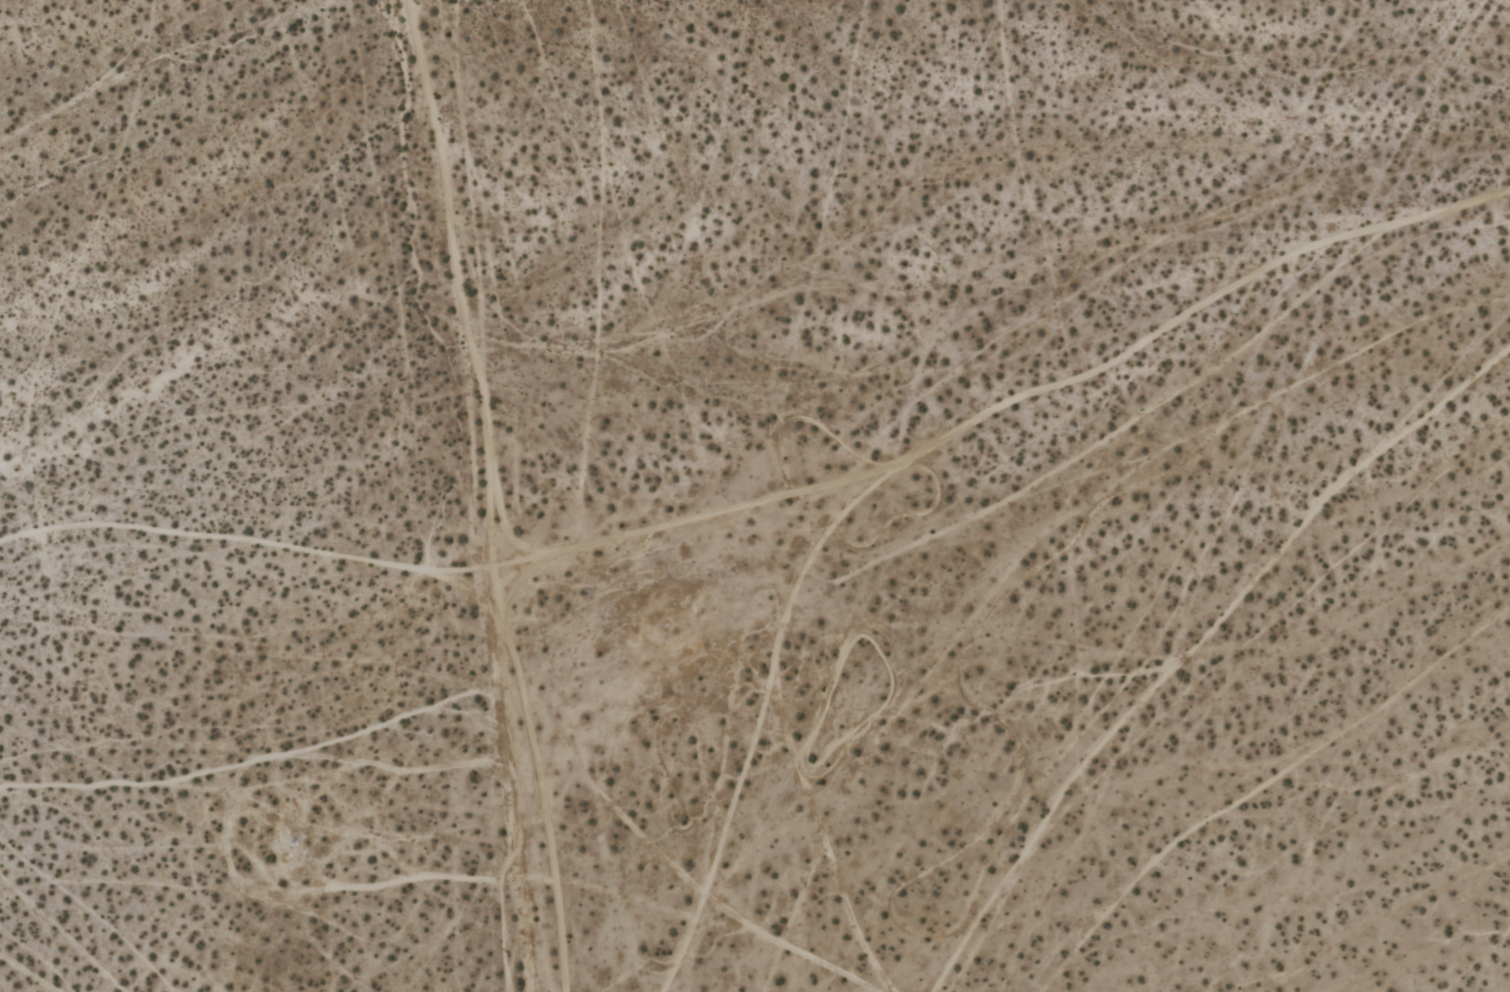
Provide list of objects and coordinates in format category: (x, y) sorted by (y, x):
crop: (755, 496)

